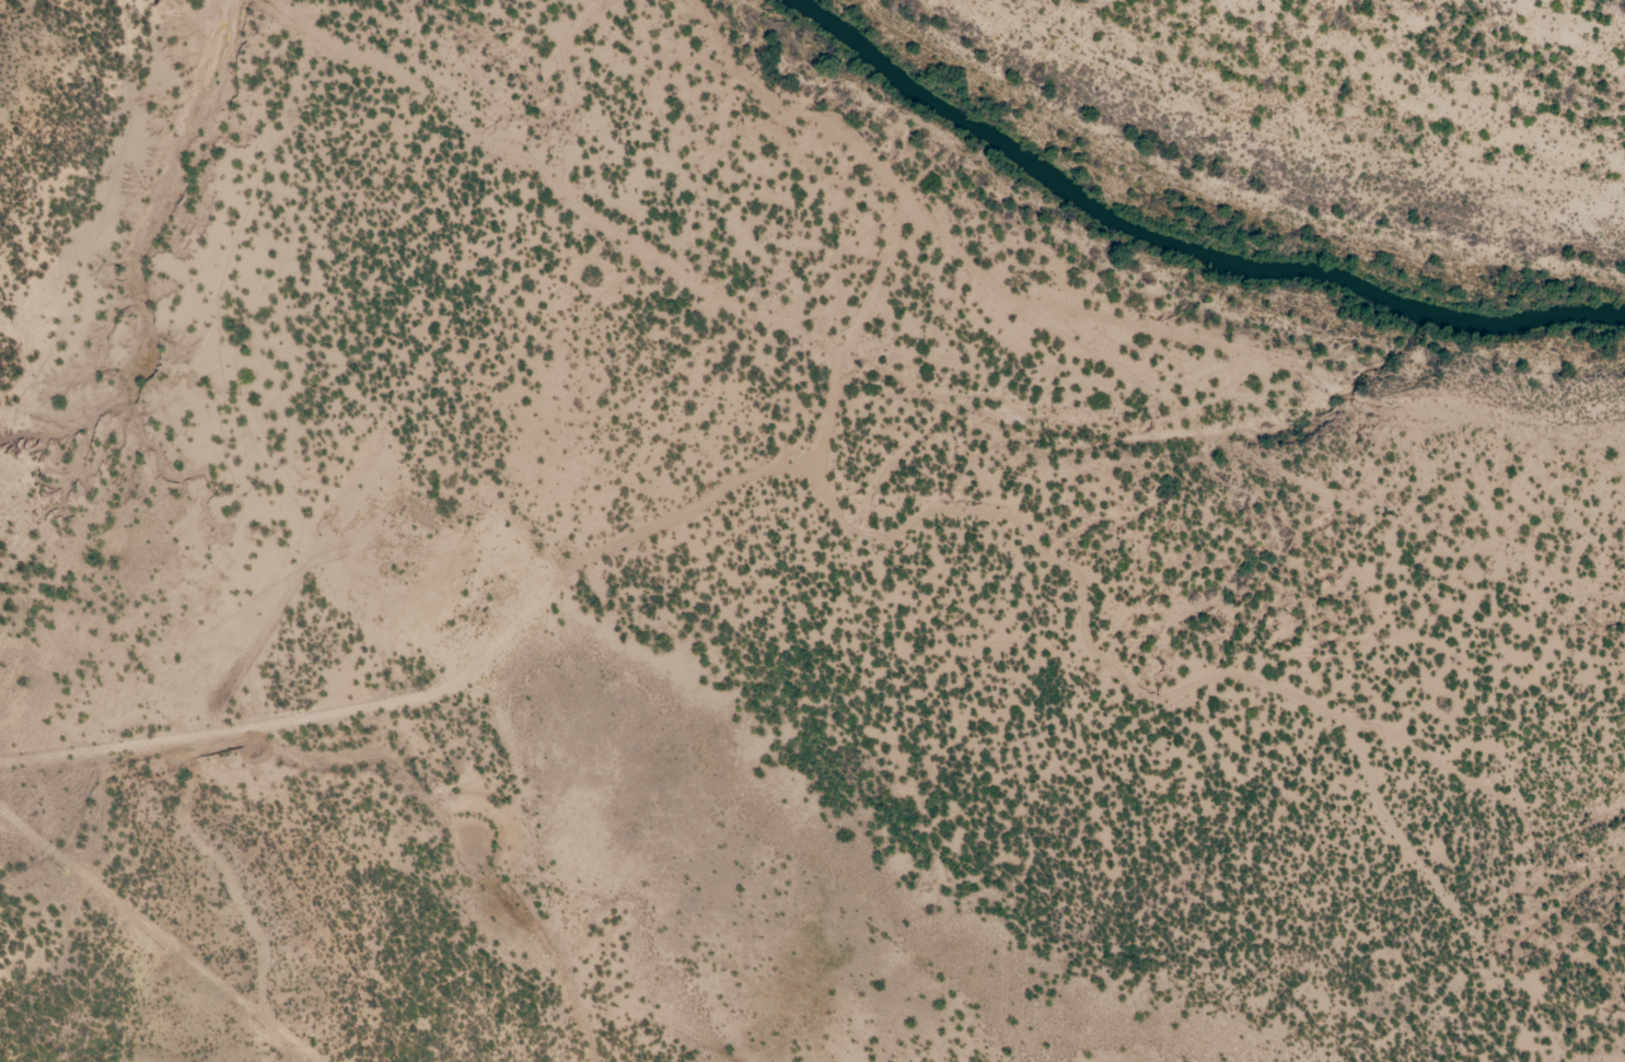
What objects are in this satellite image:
river: (1192, 226)

